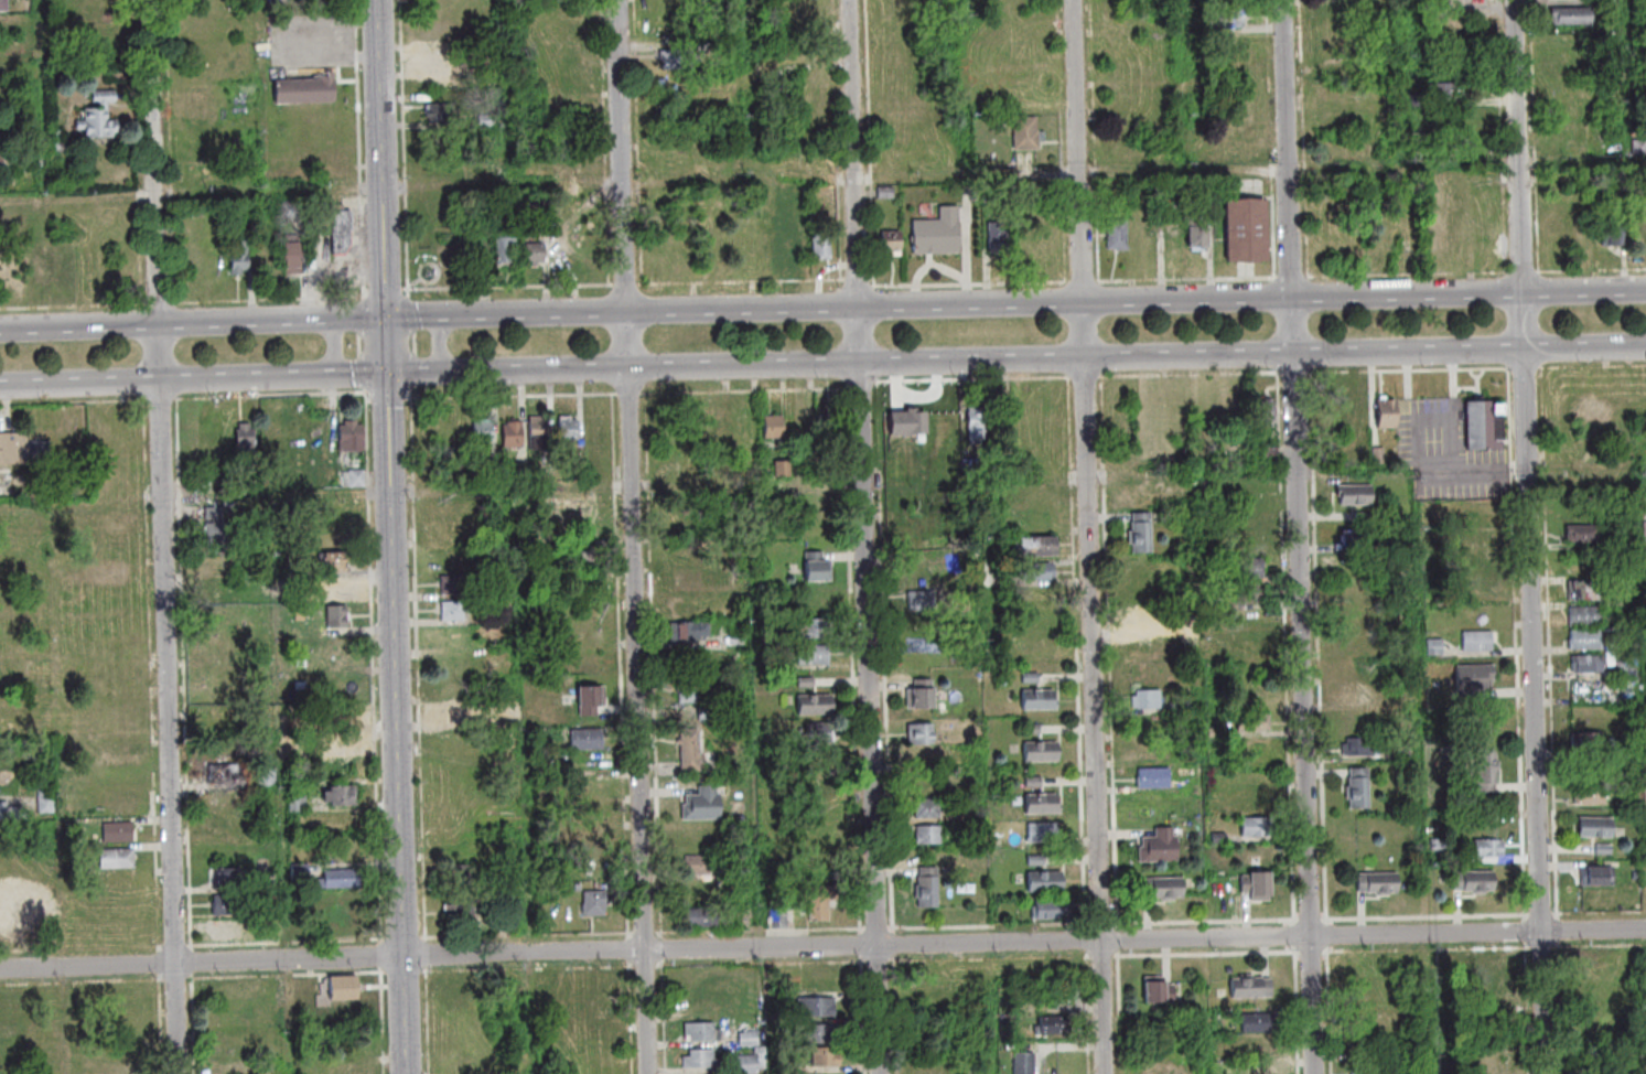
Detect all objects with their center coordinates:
building: (1383, 0)
building: (1412, 1)
building: (3, 4)
building: (1609, 4)
road: (1268, 14)
building: (1571, 17)
building: (1231, 19)
road: (1276, 29)
building: (1343, 39)
road: (286, 42)
building: (677, 60)
building: (441, 62)
building: (1562, 62)
building: (1461, 66)
building: (487, 68)
building: (306, 88)
building: (1446, 90)
building: (1418, 98)
road: (44, 99)
building: (441, 112)
building: (100, 116)
building: (487, 121)
building: (1028, 132)
building: (56, 135)
road: (1503, 136)
road: (1536, 136)
road: (1304, 138)
road: (871, 139)
building: (1639, 146)
building: (63, 147)
road: (406, 149)
building: (30, 150)
road: (362, 150)
road: (172, 151)
building: (1, 160)
road: (1279, 170)
road: (957, 173)
building: (1205, 187)
road: (1090, 191)
building: (886, 193)
road: (77, 198)
building: (513, 204)
road: (1274, 224)
building: (1638, 227)
building: (1553, 228)
building: (342, 230)
building: (1247, 230)
building: (938, 233)
building: (1118, 233)
building: (1612, 234)
building: (1198, 235)
building: (999, 236)
road: (1099, 236)
building: (765, 241)
building: (892, 241)
building: (796, 243)
building: (824, 244)
building: (505, 245)
building: (536, 251)
building: (292, 255)
building: (239, 256)
road: (439, 269)
road: (1591, 271)
road: (824, 272)
road: (842, 272)
road: (1525, 272)
road: (1410, 275)
road: (1293, 277)
road: (1187, 279)
road: (860, 280)
road: (743, 282)
road: (1084, 282)
road: (416, 284)
road: (967, 284)
road: (626, 286)
road: (508, 288)
road: (387, 290)
road: (271, 300)
road: (160, 303)
road: (74, 307)
road: (822, 307)
traffic signals: (387, 318)
road: (437, 343)
road: (361, 344)
road: (417, 344)
road: (336, 347)
road: (822, 362)
road: (1594, 367)
road: (1527, 368)
road: (1410, 370)
road: (1295, 373)
traffic signals: (391, 374)
road: (1191, 375)
road: (1087, 377)
road: (975, 378)
road: (863, 385)
road: (745, 390)
road: (412, 394)
road: (636, 395)
road: (270, 396)
road: (409, 398)
road: (163, 399)
road: (389, 399)
road: (121, 400)
road: (370, 400)
road: (51, 402)
road: (6, 405)
road: (1455, 410)
building: (1263, 412)
building: (1387, 414)
road: (1432, 417)
building: (908, 422)
building: (978, 423)
building: (1484, 425)
building: (830, 426)
building: (774, 427)
building: (569, 429)
building: (484, 430)
building: (539, 432)
building: (514, 434)
building: (245, 436)
building: (352, 436)
building: (22, 449)
parking lot: (1449, 453)
building: (1269, 454)
building: (1380, 455)
road: (1419, 462)
building: (971, 463)
building: (784, 469)
building: (355, 479)
building: (1356, 490)
building: (1364, 516)
building: (933, 526)
building: (217, 529)
building: (1645, 530)
building: (1142, 533)
building: (1583, 534)
building: (1476, 535)
road: (165, 536)
road: (396, 536)
road: (865, 536)
road: (1090, 536)
road: (634, 537)
road: (1300, 537)
road: (1531, 537)
building: (1353, 539)
building: (1037, 546)
road: (857, 557)
building: (587, 560)
building: (335, 561)
building: (818, 567)
building: (1250, 567)
building: (1040, 571)
building: (287, 573)
building: (453, 584)
building: (222, 591)
building: (332, 591)
building: (1585, 591)
building: (1250, 593)
building: (922, 601)
building: (1216, 602)
building: (454, 610)
building: (1585, 616)
building: (338, 620)
building: (1147, 620)
building: (816, 627)
building: (689, 631)
building: (738, 633)
road: (852, 633)
road: (154, 638)
building: (1355, 640)
building: (1585, 640)
building: (1477, 642)
road: (1551, 644)
building: (219, 645)
building: (1247, 645)
road: (1518, 645)
road: (1288, 646)
road: (1321, 646)
building: (1437, 647)
road: (1079, 654)
road: (1111, 654)
building: (815, 655)
road: (886, 657)
building: (1588, 665)
road: (375, 666)
road: (656, 666)
building: (1628, 670)
road: (186, 674)
building: (1032, 677)
building: (1474, 679)
building: (807, 683)
building: (690, 690)
building: (1357, 694)
building: (923, 695)
building: (1040, 699)
building: (1148, 699)
building: (591, 700)
building: (816, 705)
building: (1192, 705)
building: (1180, 708)
building: (456, 713)
building: (710, 713)
building: (338, 718)
road: (862, 721)
building: (1255, 722)
building: (1033, 730)
building: (821, 732)
building: (922, 733)
building: (1217, 733)
building: (589, 739)
building: (1589, 742)
building: (1363, 747)
building: (342, 748)
building: (691, 750)
building: (1042, 752)
building: (1408, 754)
building: (924, 771)
building: (1487, 771)
building: (225, 773)
building: (301, 774)
building: (269, 777)
building: (1155, 778)
building: (1034, 782)
building: (1359, 788)
building: (1591, 794)
building: (344, 795)
building: (1252, 798)
building: (46, 801)
building: (299, 803)
building: (704, 804)
building: (1044, 804)
building: (929, 807)
building: (12, 813)
building: (1258, 827)
building: (1595, 827)
building: (119, 831)
building: (1044, 833)
building: (69, 834)
building: (929, 835)
building: (1220, 837)
building: (1438, 845)
building: (1161, 847)
building: (1491, 848)
building: (1605, 850)
building: (118, 858)
building: (1037, 860)
building: (699, 866)
building: (743, 871)
building: (301, 872)
building: (461, 872)
building: (1597, 877)
building: (226, 878)
building: (344, 879)
building: (1046, 881)
building: (1474, 881)
building: (1378, 883)
building: (1259, 885)
building: (928, 888)
building: (1165, 888)
building: (820, 900)
building: (595, 903)
building: (230, 905)
building: (46, 906)
building: (1050, 910)
building: (10, 912)
building: (462, 914)
road: (1601, 914)
road: (160, 915)
road: (1299, 915)
road: (1312, 915)
road: (1325, 915)
road: (1543, 915)
building: (702, 917)
road: (861, 917)
road: (1431, 917)
building: (781, 920)
building: (508, 922)
road: (1204, 922)
road: (1333, 922)
road: (1104, 924)
road: (1289, 924)
road: (991, 926)
building: (226, 927)
road: (879, 928)
road: (1560, 928)
road: (822, 930)
road: (685, 932)
road: (1528, 932)
road: (646, 933)
road: (528, 936)
road: (631, 936)
road: (1088, 936)
road: (1290, 936)
road: (1333, 936)
road: (404, 938)
road: (778, 938)
road: (895, 939)
road: (428, 941)
road: (1120, 941)
road: (288, 943)
road: (862, 945)
road: (822, 946)
road: (1600, 946)
road: (164, 947)
road: (177, 947)
road: (1543, 947)
road: (664, 948)
road: (631, 949)
road: (1290, 949)
road: (1334, 949)
road: (1431, 949)
road: (24, 951)
road: (1206, 954)
road: (428, 955)
road: (50, 956)
road: (1109, 956)
road: (383, 957)
road: (1300, 958)
road: (1313, 958)
road: (1326, 958)
building: (1595, 960)
road: (193, 962)
road: (162, 963)
road: (799, 963)
road: (856, 963)
road: (874, 963)
building: (1442, 963)
road: (746, 964)
building: (1492, 964)
road: (702, 966)
road: (646, 967)
road: (661, 967)
road: (530, 969)
road: (406, 971)
road: (288, 975)
road: (177, 978)
road: (83, 980)
building: (1585, 980)
building: (464, 982)
road: (1121, 985)
building: (1252, 987)
building: (345, 988)
building: (1370, 989)
building: (1160, 990)
building: (815, 1005)
building: (1581, 1005)
road: (1562, 1007)
road: (1529, 1008)
building: (595, 1010)
road: (1332, 1012)
road: (1299, 1013)
building: (1369, 1013)
road: (633, 1016)
road: (666, 1016)
road: (864, 1016)
road: (429, 1020)
road: (385, 1021)
road: (163, 1023)
road: (194, 1023)
building: (1261, 1023)
building: (1053, 1027)
building: (700, 1030)
building: (819, 1031)
building: (747, 1037)
building: (1259, 1045)
building: (825, 1055)
building: (696, 1056)
building: (462, 1062)
building: (749, 1062)
building: (1026, 1063)
building: (1261, 1068)
building: (1370, 1070)

